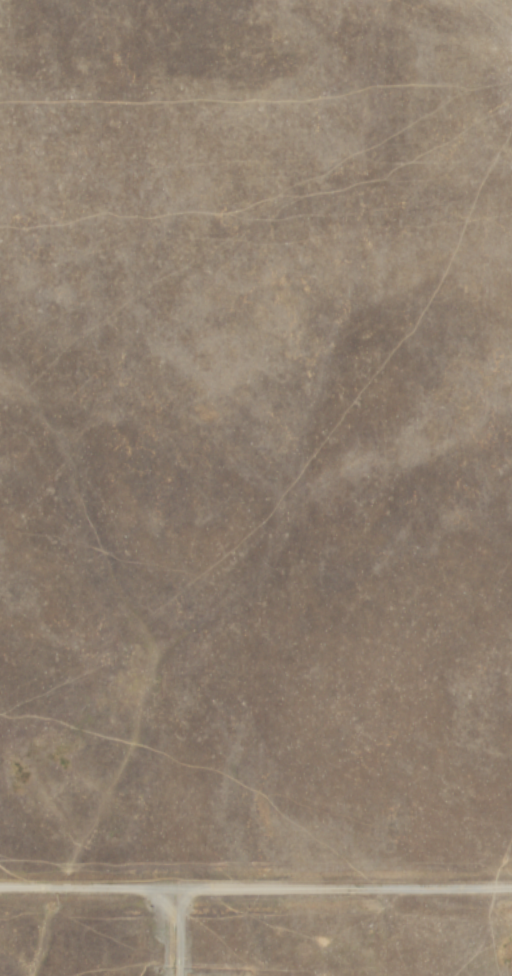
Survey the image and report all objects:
road: (255, 888)
road: (178, 928)

